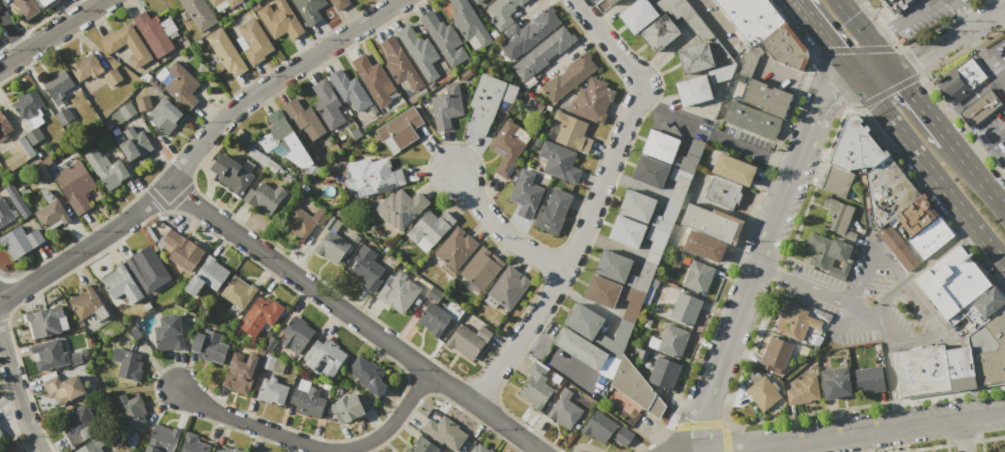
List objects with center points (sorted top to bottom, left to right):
road: (839, 0)
building: (475, 1)
road: (931, 1)
building: (610, 2)
road: (953, 2)
building: (48, 3)
building: (223, 4)
building: (339, 4)
building: (665, 4)
building: (895, 5)
building: (308, 6)
building: (27, 9)
building: (503, 11)
building: (199, 13)
road: (910, 13)
building: (637, 16)
road: (962, 16)
building: (279, 19)
building: (751, 19)
road: (985, 19)
road: (709, 21)
building: (469, 25)
road: (875, 29)
building: (532, 30)
road: (13, 32)
building: (155, 32)
road: (52, 33)
building: (660, 33)
road: (820, 33)
road: (866, 34)
building: (443, 39)
building: (255, 41)
road: (974, 42)
building: (127, 44)
building: (786, 48)
road: (854, 48)
road: (929, 50)
building: (225, 52)
building: (421, 53)
building: (543, 53)
building: (695, 58)
building: (400, 65)
traffic signals: (846, 66)
building: (85, 67)
road: (869, 68)
traffic signals: (893, 70)
road: (993, 70)
building: (722, 74)
road: (853, 75)
building: (113, 77)
building: (569, 77)
road: (877, 77)
building: (373, 79)
road: (796, 79)
road: (831, 81)
building: (960, 81)
traffic signals: (861, 84)
building: (57, 85)
building: (180, 85)
building: (349, 90)
building: (692, 90)
road: (887, 90)
building: (421, 92)
road: (817, 93)
building: (767, 98)
building: (591, 100)
building: (488, 102)
building: (143, 103)
building: (327, 104)
road: (831, 105)
road: (920, 105)
building: (29, 106)
building: (446, 106)
building: (539, 106)
building: (979, 108)
building: (373, 110)
road: (665, 112)
building: (123, 113)
building: (62, 114)
building: (165, 115)
building: (304, 119)
building: (752, 120)
building: (3, 123)
building: (399, 130)
building: (568, 132)
building: (355, 133)
building: (33, 135)
road: (995, 137)
building: (284, 140)
building: (133, 143)
building: (660, 146)
building: (855, 147)
road: (197, 148)
building: (506, 148)
building: (19, 153)
road: (760, 153)
road: (975, 154)
building: (689, 157)
building: (1001, 161)
building: (559, 162)
building: (107, 169)
building: (42, 170)
building: (650, 171)
building: (232, 173)
road: (932, 174)
road: (976, 175)
building: (373, 177)
building: (728, 180)
building: (836, 180)
building: (75, 186)
building: (9, 188)
building: (525, 194)
building: (266, 198)
road: (593, 201)
building: (672, 201)
building: (20, 204)
building: (637, 206)
building: (400, 208)
building: (552, 210)
building: (5, 212)
building: (51, 214)
building: (838, 219)
building: (304, 221)
building: (712, 222)
building: (924, 226)
building: (430, 229)
road: (504, 231)
building: (627, 232)
building: (20, 241)
building: (331, 241)
building: (656, 244)
building: (703, 246)
building: (897, 247)
building: (455, 248)
building: (183, 250)
road: (939, 253)
building: (830, 255)
building: (143, 266)
building: (613, 266)
building: (366, 268)
building: (481, 268)
building: (697, 276)
building: (206, 277)
building: (642, 277)
building: (122, 284)
building: (147, 287)
building: (508, 288)
road: (818, 289)
building: (959, 289)
building: (602, 291)
road: (749, 291)
building: (239, 292)
building: (397, 292)
road: (913, 293)
road: (888, 296)
parking lot: (870, 300)
building: (632, 304)
building: (88, 305)
building: (684, 309)
building: (260, 316)
road: (352, 318)
building: (433, 319)
building: (44, 321)
building: (797, 321)
building: (588, 327)
building: (168, 333)
building: (296, 334)
building: (620, 338)
building: (468, 340)
building: (670, 341)
building: (209, 347)
building: (579, 348)
building: (637, 348)
building: (989, 350)
building: (48, 354)
building: (642, 355)
building: (775, 355)
building: (74, 358)
building: (323, 358)
building: (127, 363)
building: (272, 364)
building: (930, 369)
road: (887, 370)
building: (242, 372)
building: (663, 373)
building: (367, 375)
building: (869, 380)
building: (835, 383)
building: (536, 386)
building: (63, 388)
building: (272, 391)
building: (802, 391)
road: (18, 393)
building: (763, 393)
building: (307, 400)
building: (348, 407)
building: (132, 410)
building: (564, 410)
building: (78, 424)
building: (598, 427)
building: (1, 431)
road: (860, 431)
building: (444, 432)
road: (963, 434)
building: (623, 436)
building: (162, 439)
building: (193, 444)
building: (93, 445)
road: (313, 446)
building: (421, 446)
building: (481, 448)
building: (227, 450)
building: (109, 451)
building: (112, 451)

